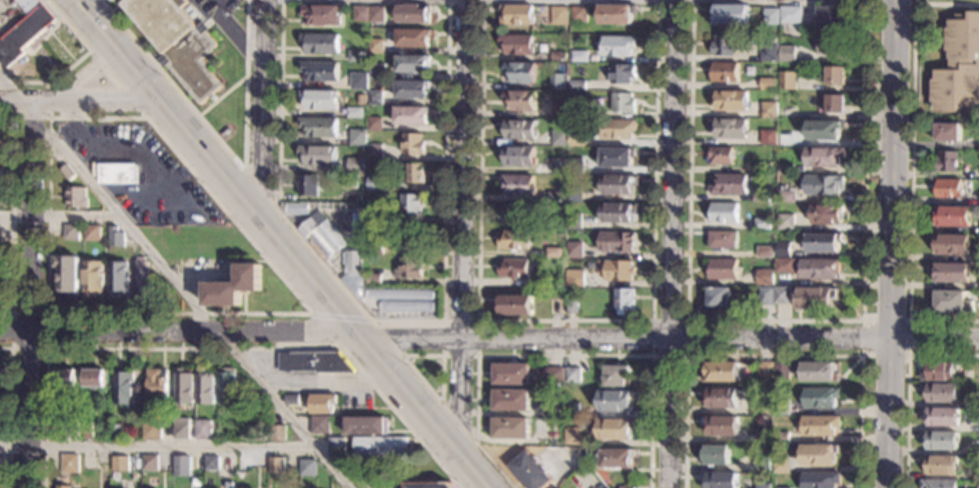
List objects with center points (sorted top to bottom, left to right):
road: (946, 3)
parking lot: (211, 7)
building: (360, 14)
building: (376, 14)
building: (616, 14)
building: (729, 14)
building: (412, 15)
building: (516, 15)
building: (559, 15)
building: (579, 15)
building: (791, 15)
building: (321, 16)
building: (770, 17)
building: (830, 18)
road: (95, 23)
building: (25, 30)
road: (234, 35)
building: (412, 38)
building: (178, 42)
building: (321, 43)
building: (517, 45)
building: (375, 46)
building: (618, 46)
building: (723, 46)
building: (830, 46)
building: (543, 47)
building: (769, 52)
building: (787, 54)
building: (356, 56)
building: (558, 56)
building: (579, 56)
road: (75, 62)
building: (412, 64)
building: (959, 67)
building: (320, 71)
building: (375, 72)
building: (724, 72)
building: (520, 73)
building: (622, 73)
road: (81, 75)
building: (835, 76)
road: (242, 78)
road: (117, 80)
building: (359, 81)
building: (557, 81)
building: (787, 81)
building: (371, 82)
road: (116, 84)
building: (768, 84)
building: (577, 85)
building: (411, 90)
building: (374, 98)
road: (217, 99)
building: (320, 99)
building: (362, 99)
building: (521, 100)
building: (730, 100)
road: (82, 103)
building: (622, 103)
building: (834, 104)
road: (265, 105)
building: (560, 110)
building: (769, 110)
building: (786, 112)
building: (355, 113)
building: (576, 113)
building: (411, 116)
road: (49, 117)
building: (374, 124)
building: (319, 127)
building: (729, 128)
building: (519, 129)
building: (617, 129)
building: (825, 129)
building: (947, 132)
building: (358, 138)
building: (559, 138)
building: (768, 138)
building: (576, 139)
building: (413, 144)
road: (227, 150)
building: (374, 152)
building: (358, 154)
building: (319, 155)
building: (2, 156)
building: (720, 156)
building: (519, 157)
building: (616, 157)
building: (823, 157)
building: (947, 162)
building: (356, 165)
building: (558, 166)
building: (575, 166)
building: (763, 168)
building: (784, 169)
road: (48, 171)
building: (67, 172)
building: (416, 173)
building: (117, 174)
building: (350, 182)
building: (375, 183)
building: (619, 184)
building: (308, 185)
building: (729, 185)
building: (823, 185)
building: (517, 186)
building: (948, 189)
road: (261, 190)
building: (574, 194)
road: (911, 194)
building: (785, 196)
building: (76, 197)
building: (557, 197)
building: (761, 198)
building: (412, 205)
building: (297, 207)
building: (618, 212)
road: (13, 213)
building: (723, 213)
road: (58, 214)
building: (515, 214)
building: (826, 214)
building: (952, 216)
building: (375, 217)
building: (573, 221)
building: (785, 222)
building: (761, 224)
road: (463, 226)
building: (356, 230)
building: (70, 232)
building: (92, 233)
building: (321, 235)
building: (413, 236)
building: (115, 237)
building: (514, 240)
building: (721, 240)
building: (618, 242)
building: (822, 242)
road: (891, 243)
road: (672, 244)
building: (951, 244)
building: (375, 246)
building: (574, 250)
building: (783, 250)
building: (765, 252)
building: (554, 253)
building: (354, 262)
building: (0, 263)
building: (785, 266)
road: (300, 267)
building: (409, 268)
building: (514, 268)
building: (723, 269)
building: (819, 269)
building: (616, 270)
building: (951, 272)
building: (67, 275)
building: (765, 277)
building: (92, 278)
building: (118, 279)
building: (374, 280)
road: (176, 281)
building: (144, 282)
building: (575, 282)
building: (355, 284)
building: (234, 287)
road: (30, 295)
building: (766, 296)
building: (782, 296)
building: (816, 298)
building: (404, 299)
building: (719, 299)
building: (624, 300)
building: (953, 302)
building: (514, 304)
building: (557, 307)
building: (572, 307)
road: (341, 316)
road: (564, 320)
road: (391, 321)
road: (774, 321)
road: (325, 330)
road: (387, 338)
road: (489, 340)
road: (11, 347)
road: (215, 348)
road: (909, 354)
road: (476, 355)
road: (556, 355)
road: (685, 355)
road: (774, 355)
building: (314, 362)
building: (765, 369)
building: (721, 371)
building: (782, 371)
building: (818, 372)
building: (939, 372)
building: (511, 374)
building: (552, 375)
building: (572, 375)
building: (617, 376)
building: (65, 377)
building: (94, 378)
building: (156, 385)
building: (226, 385)
road: (331, 385)
road: (908, 386)
building: (183, 387)
building: (123, 388)
building: (204, 388)
road: (441, 388)
building: (941, 392)
building: (721, 398)
building: (821, 398)
building: (291, 400)
building: (511, 400)
building: (615, 400)
building: (976, 400)
building: (322, 404)
building: (762, 406)
building: (552, 407)
building: (782, 408)
building: (572, 410)
road: (9, 412)
building: (941, 416)
road: (458, 422)
building: (976, 424)
building: (320, 425)
building: (366, 425)
building: (767, 425)
building: (821, 425)
building: (721, 426)
building: (511, 428)
building: (615, 429)
building: (71, 430)
building: (86, 430)
building: (116, 431)
building: (150, 431)
building: (181, 431)
building: (199, 431)
building: (277, 433)
building: (573, 436)
building: (765, 436)
building: (781, 437)
building: (941, 440)
road: (159, 445)
building: (336, 446)
building: (379, 446)
building: (768, 452)
building: (716, 455)
building: (819, 455)
building: (616, 458)
building: (88, 462)
building: (150, 463)
building: (181, 463)
building: (211, 463)
building: (762, 463)
building: (70, 464)
building: (120, 464)
building: (244, 465)
building: (781, 465)
building: (941, 465)
building: (276, 466)
building: (307, 468)
building: (531, 471)
building: (115, 476)
building: (212, 478)
building: (721, 480)
building: (820, 480)
building: (939, 484)
building: (429, 485)
building: (763, 486)
building: (64, 487)
building: (601, 487)
building: (626, 487)
building: (784, 487)
building: (978, 487)

